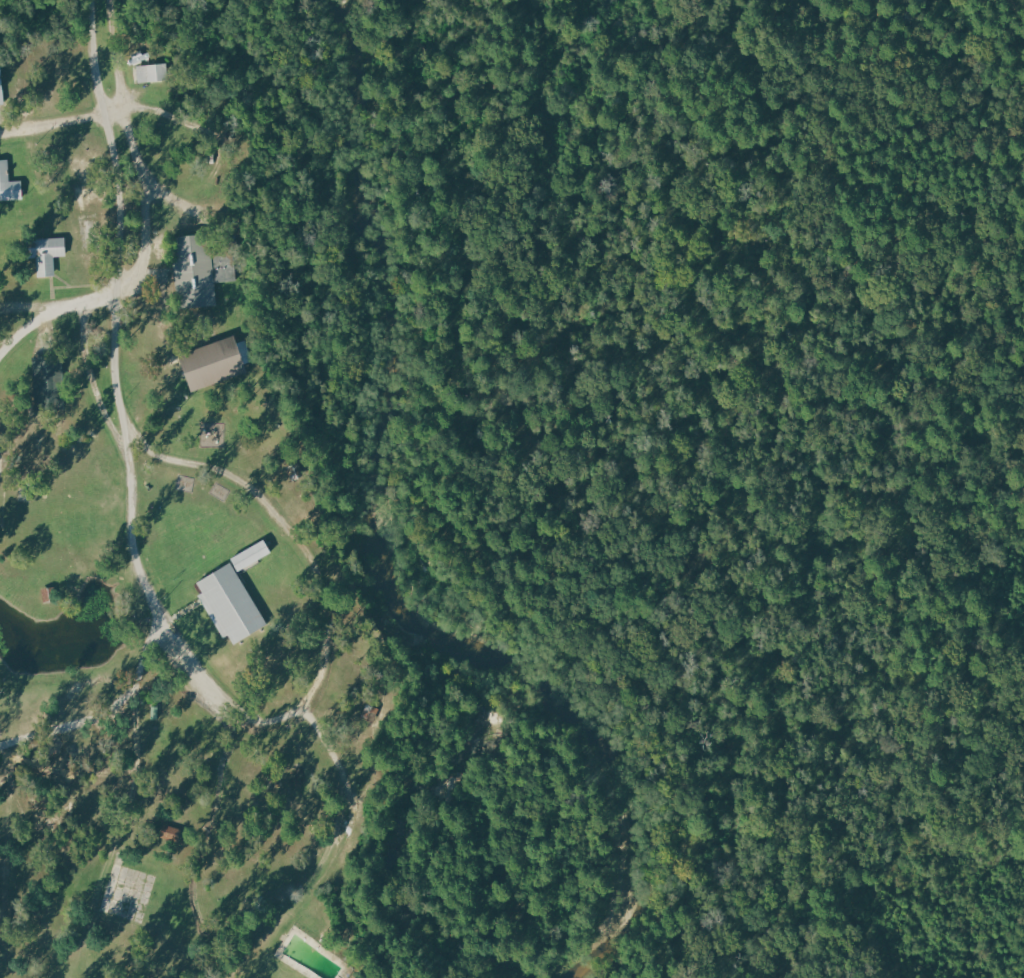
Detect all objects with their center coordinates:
building: (150, 73)
building: (0, 96)
road: (56, 124)
building: (9, 184)
road: (1001, 241)
building: (44, 253)
building: (228, 269)
building: (193, 273)
road: (27, 310)
road: (49, 312)
building: (214, 362)
road: (115, 363)
building: (44, 384)
road: (93, 384)
road: (595, 431)
river: (382, 540)
building: (250, 555)
road: (307, 556)
building: (229, 604)
road: (174, 884)

